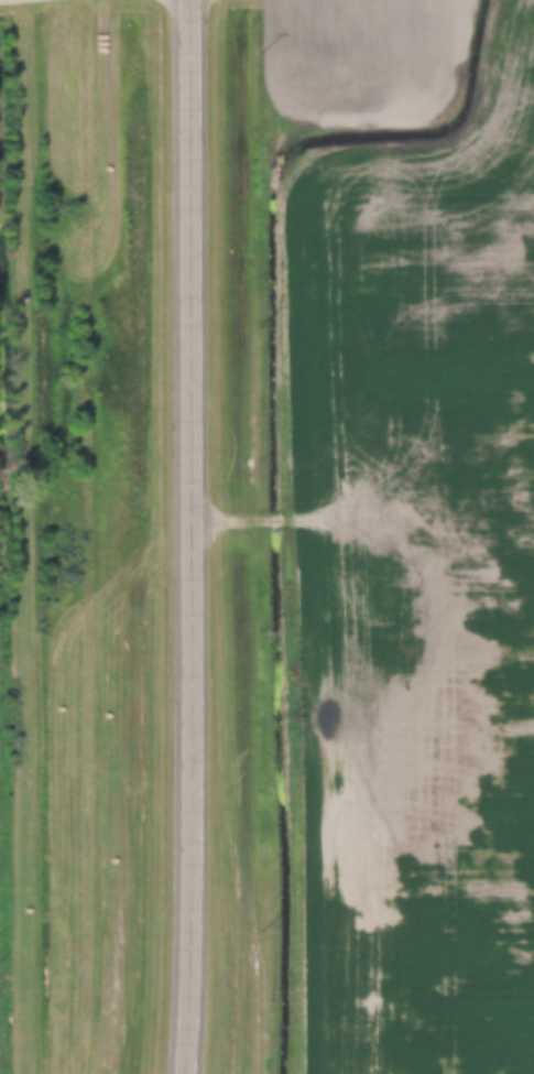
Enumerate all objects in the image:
road: (194, 536)

